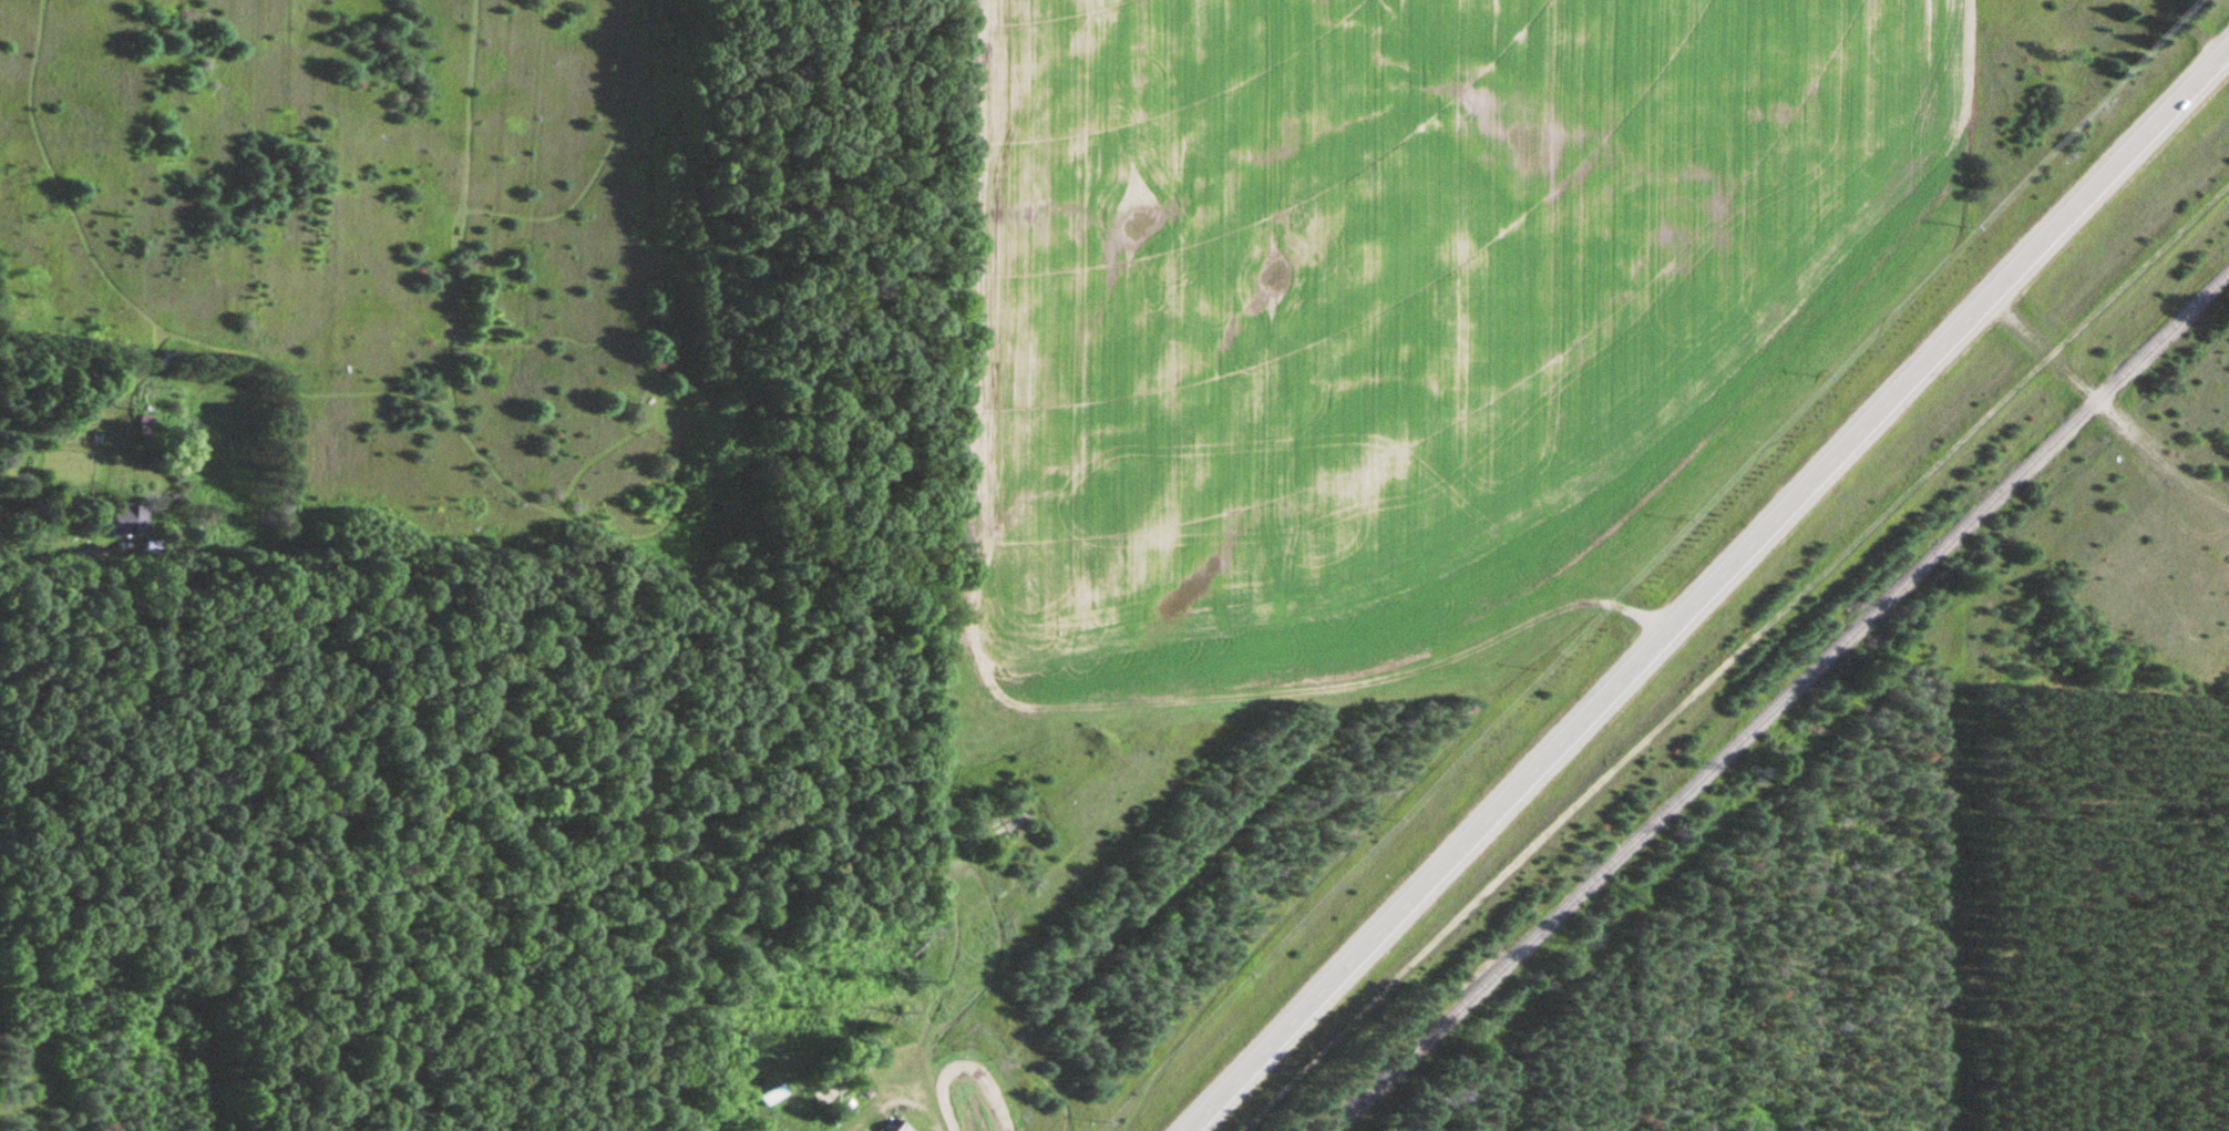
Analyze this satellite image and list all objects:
road: (2085, 388)
building: (143, 425)
building: (126, 520)
road: (1707, 587)
road: (1736, 649)
railway: (1778, 700)

